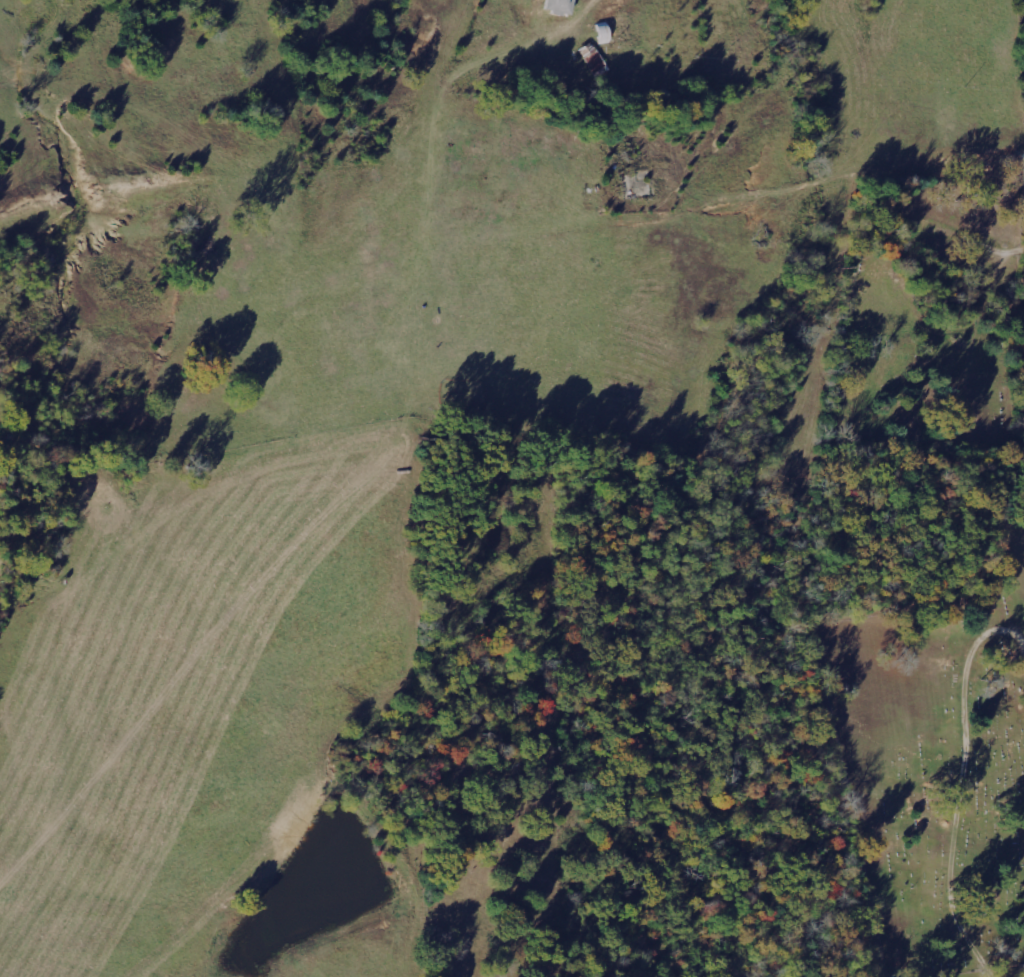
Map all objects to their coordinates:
building: (559, 5)
building: (593, 58)
road: (759, 177)
park: (925, 343)

